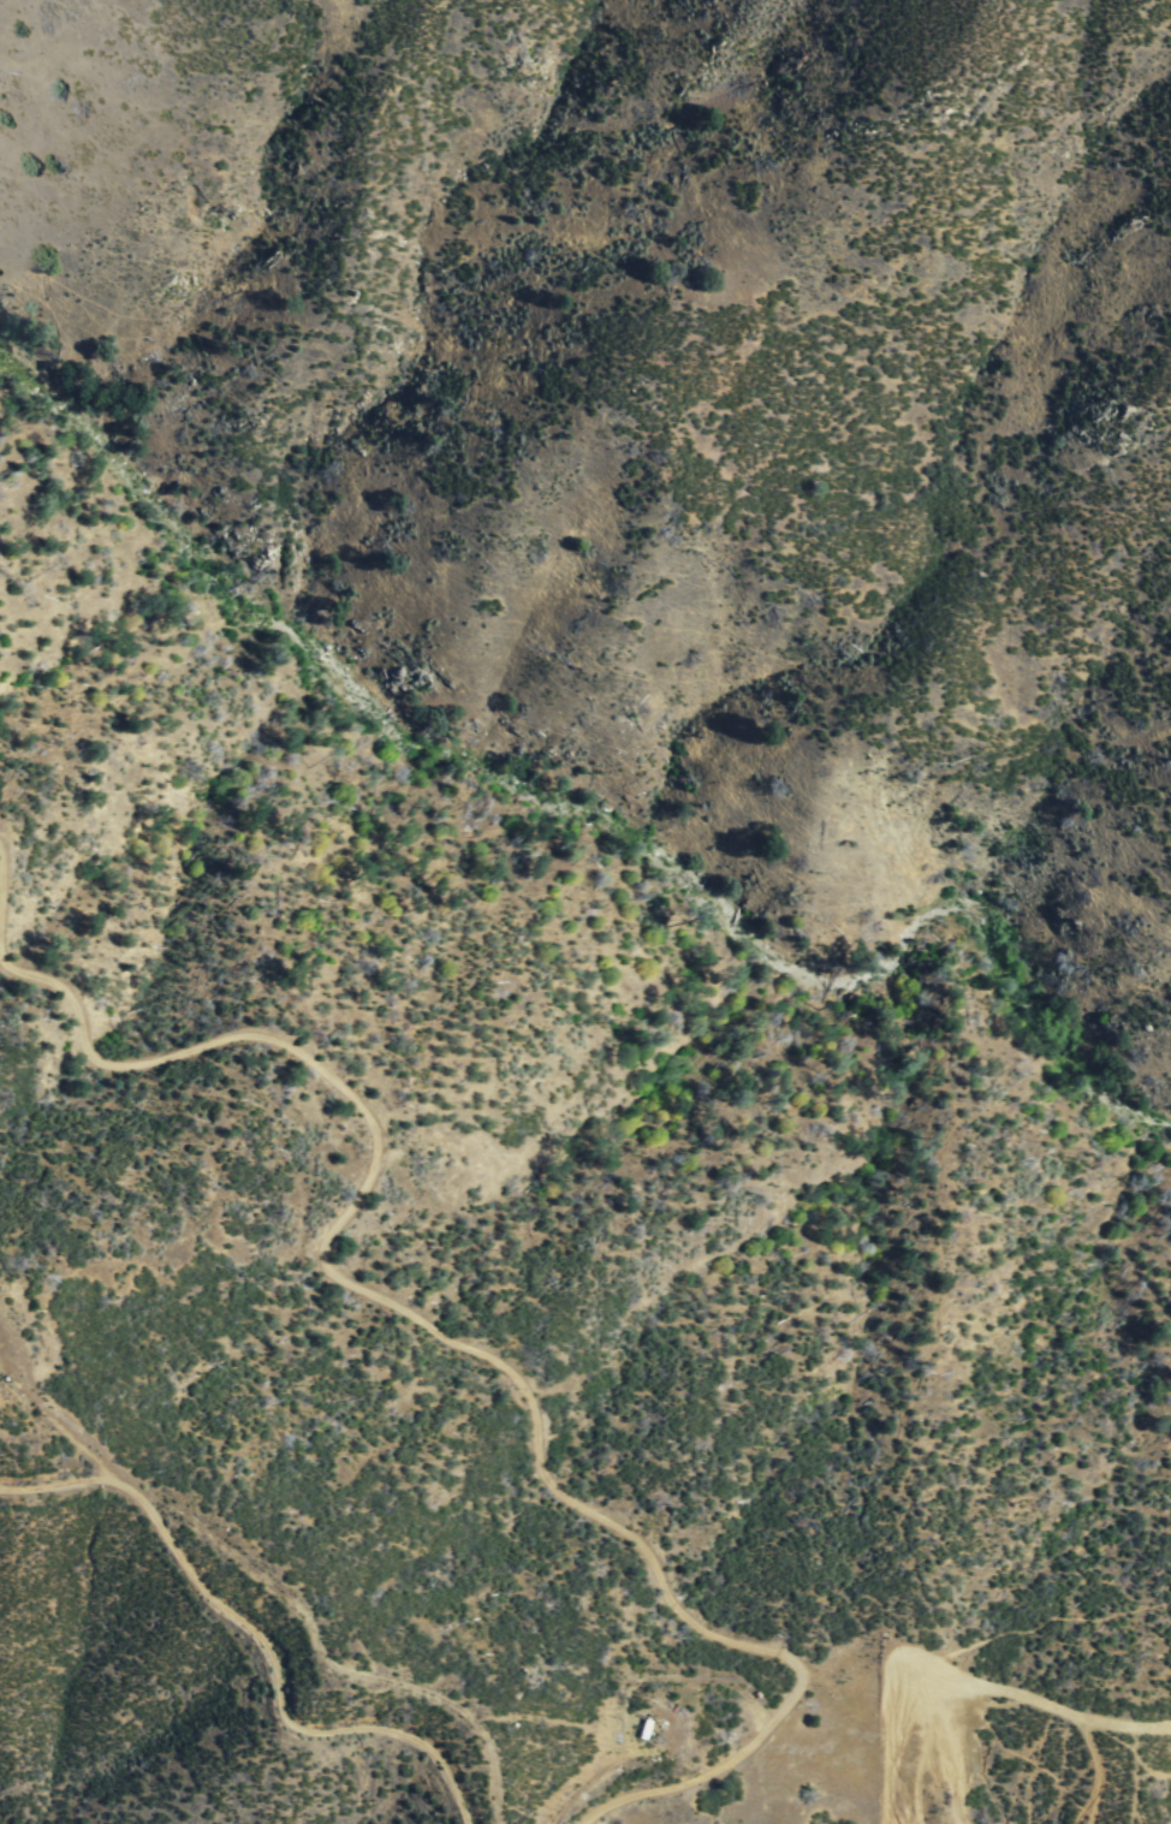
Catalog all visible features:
road: (957, 1689)

